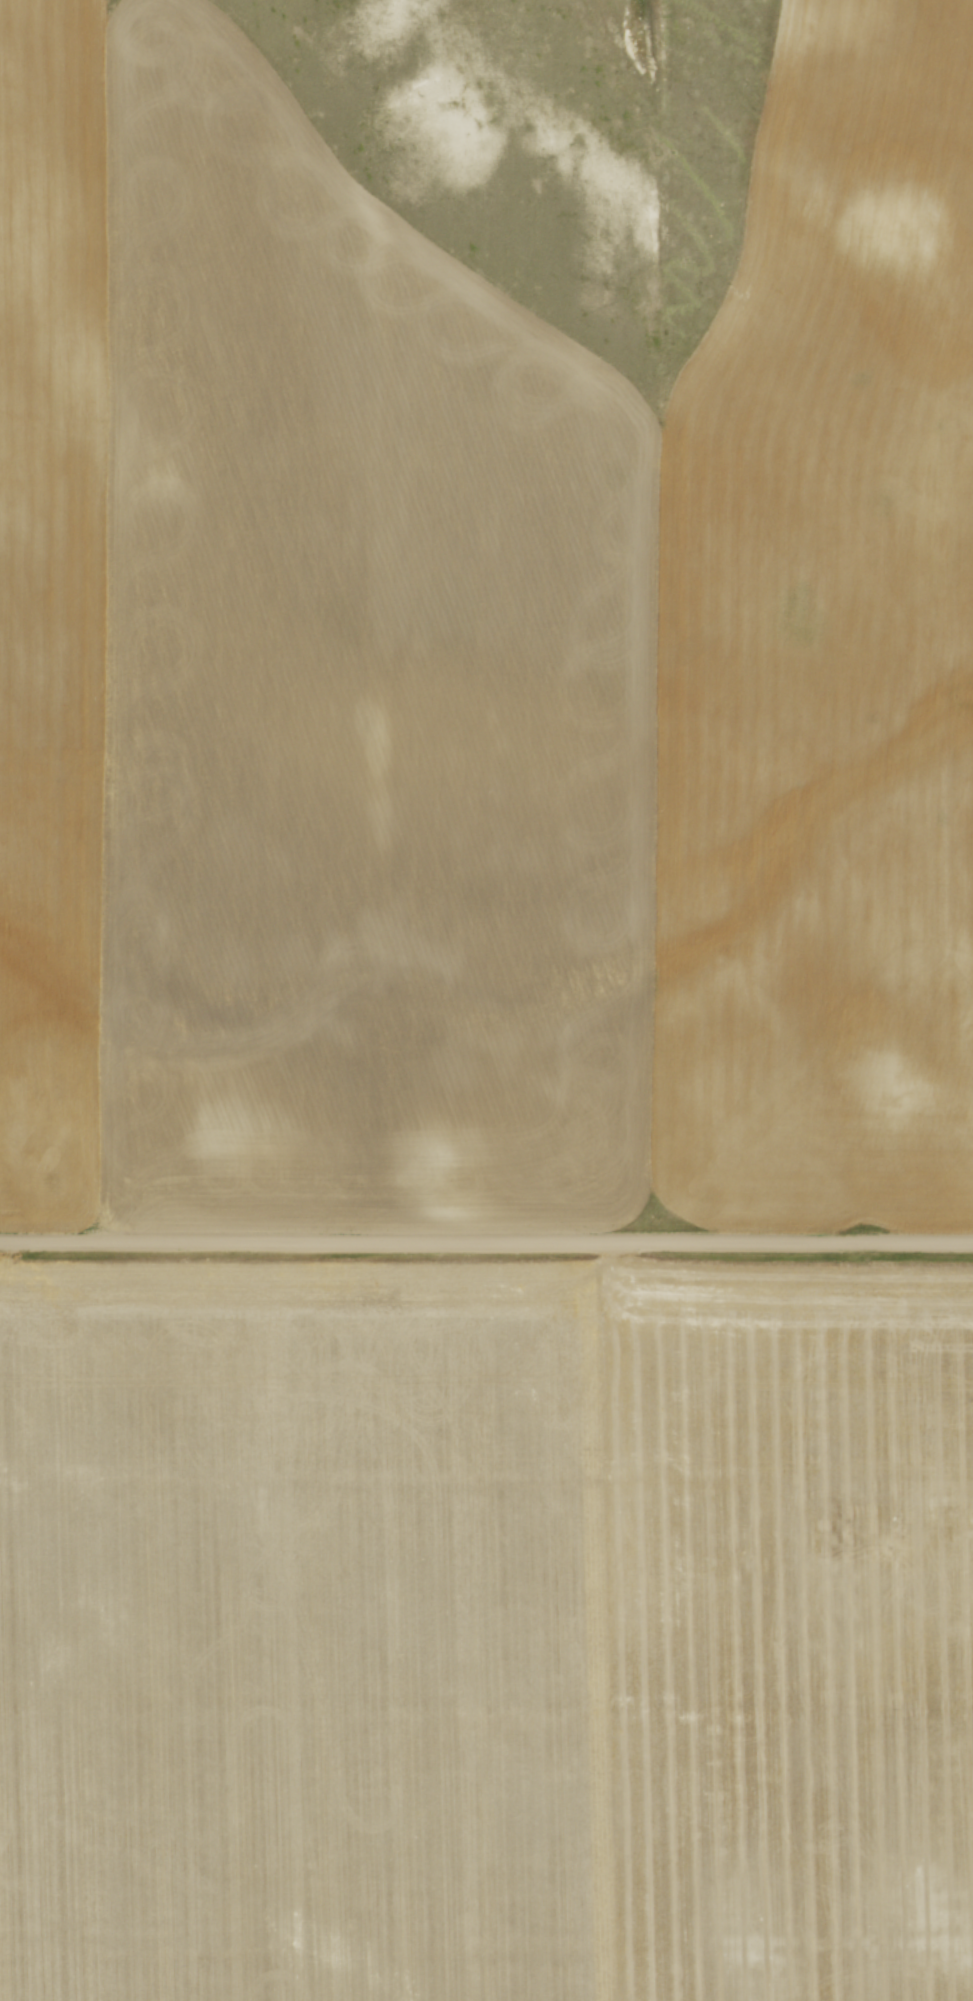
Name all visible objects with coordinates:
crop: (480, 627)
road: (486, 1241)
crop: (486, 1630)

